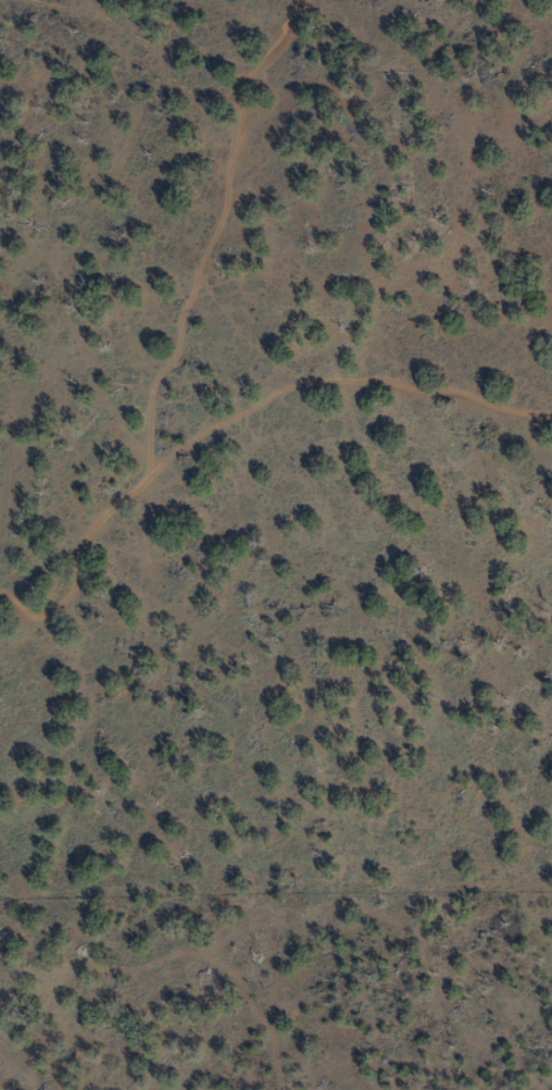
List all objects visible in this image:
road: (198, 308)

